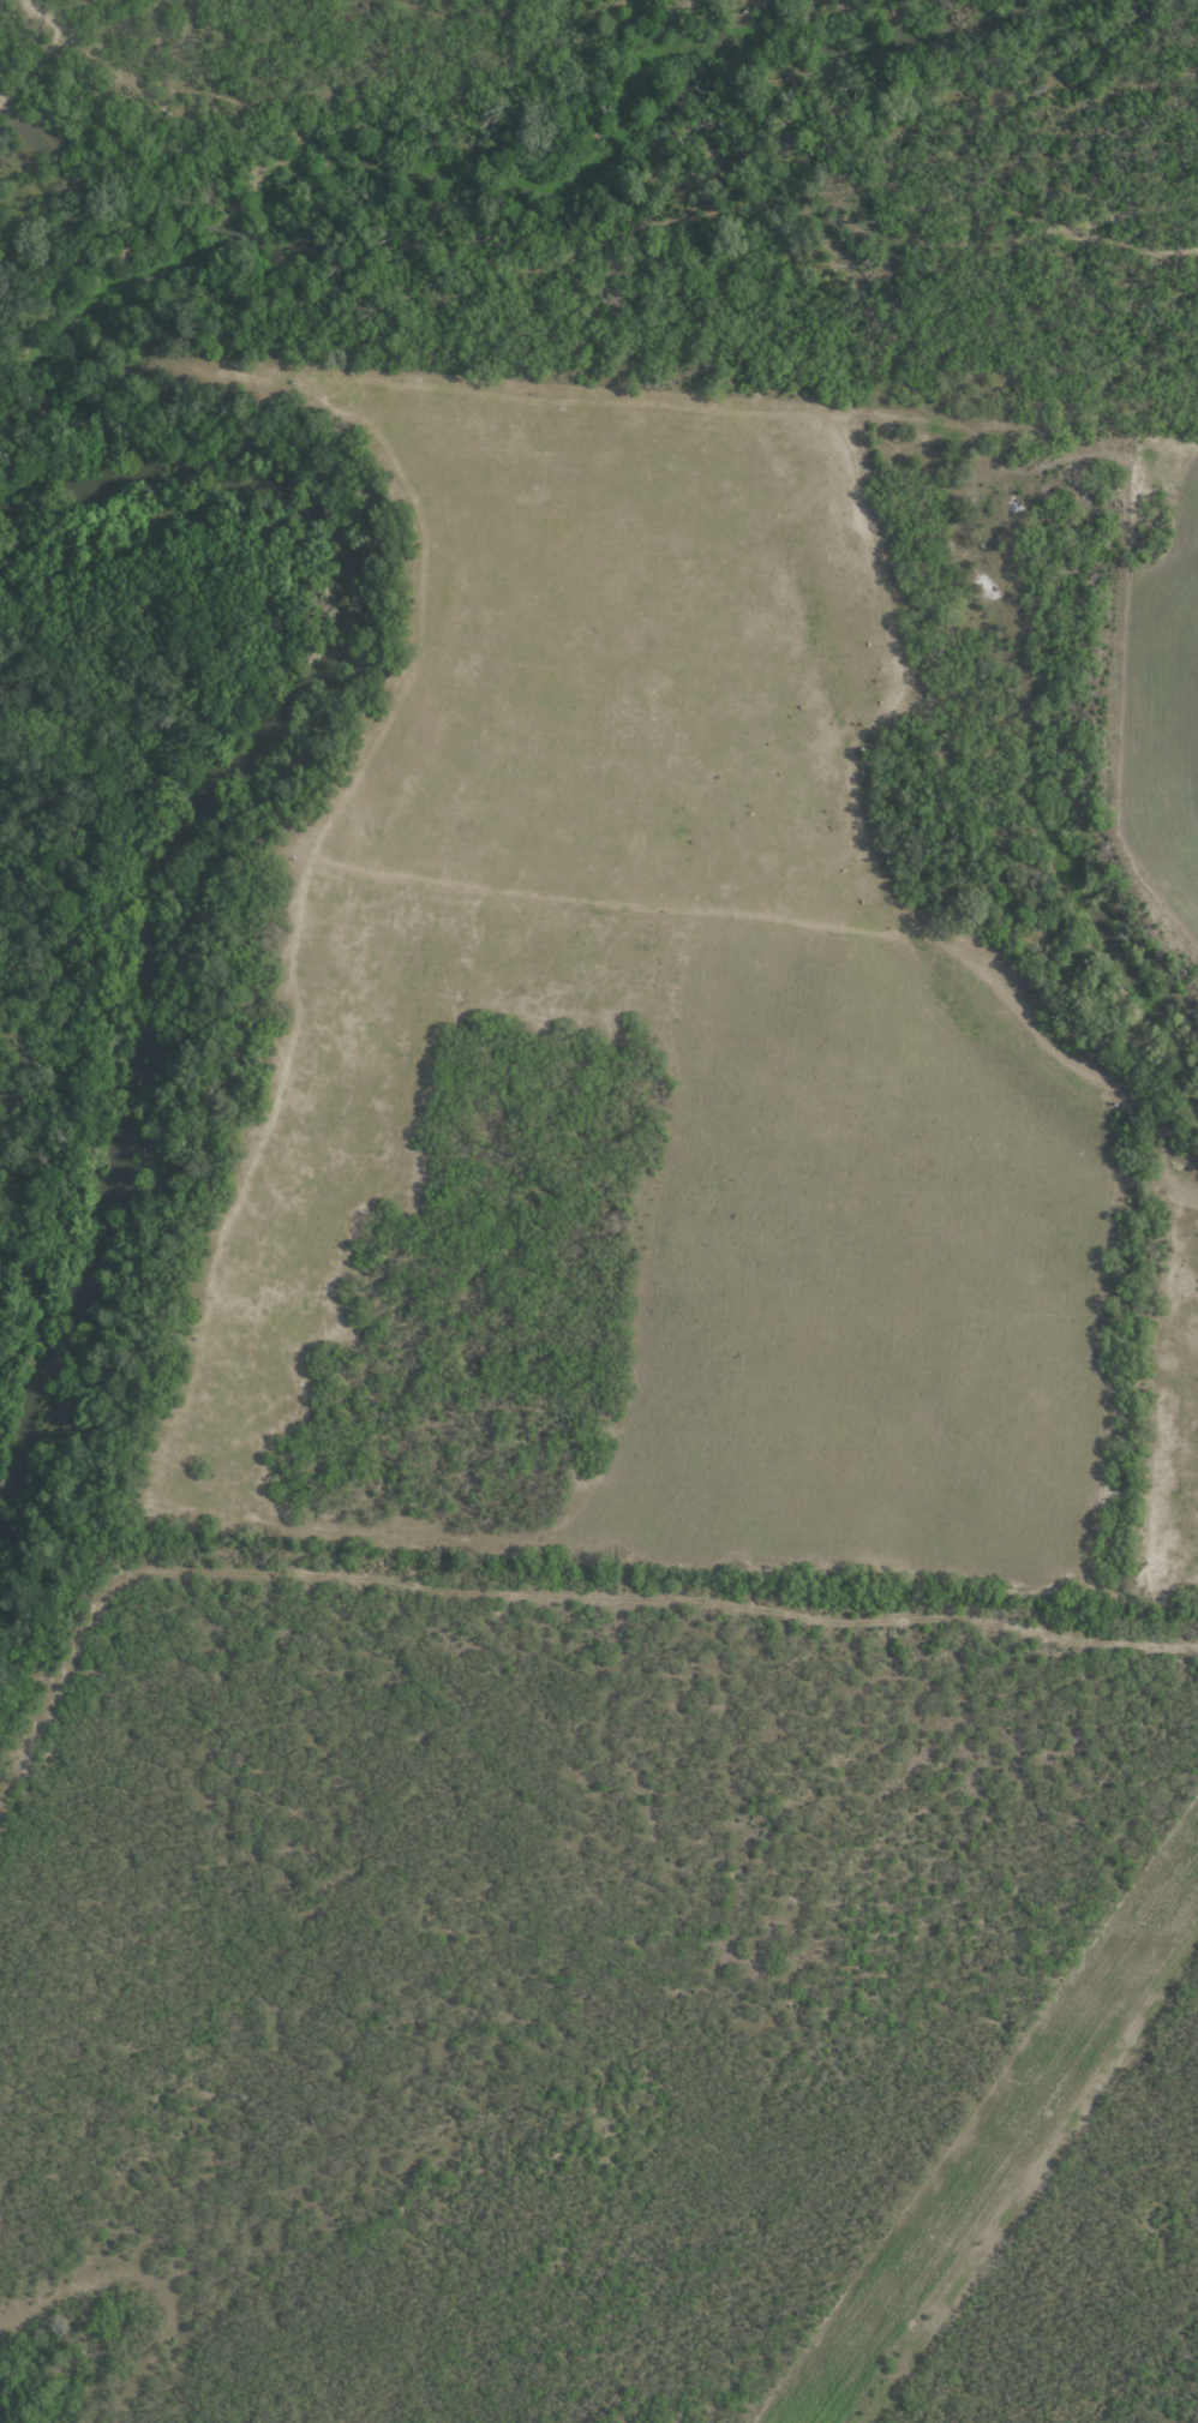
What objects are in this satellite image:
river: (190, 802)

